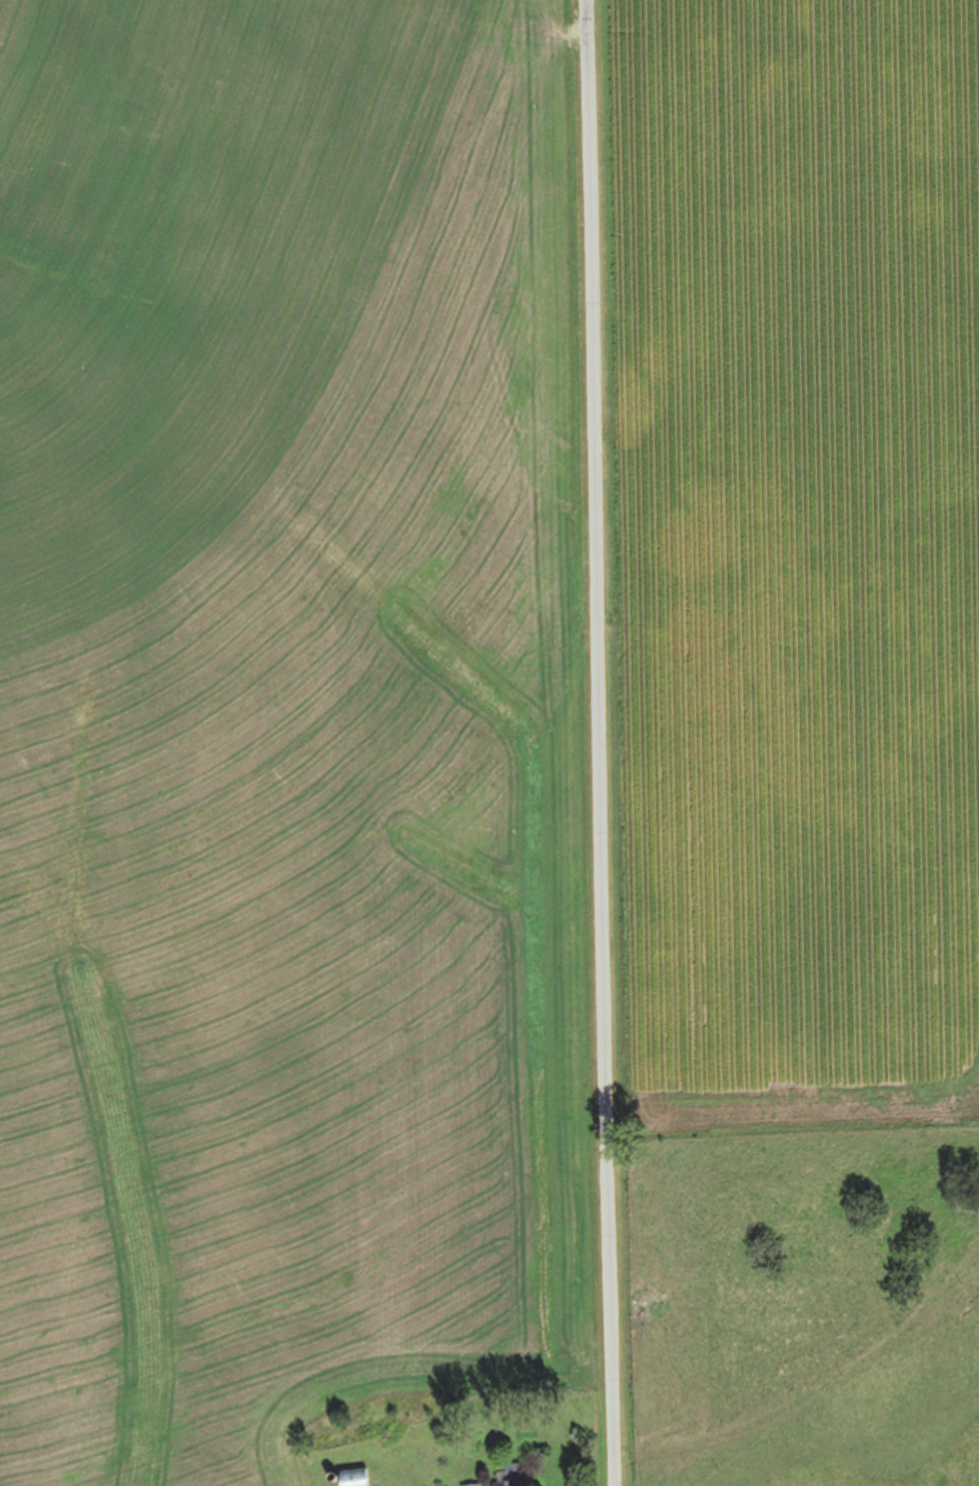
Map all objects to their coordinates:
road: (605, 742)
building: (350, 1478)
building: (504, 1480)
building: (472, 1485)

